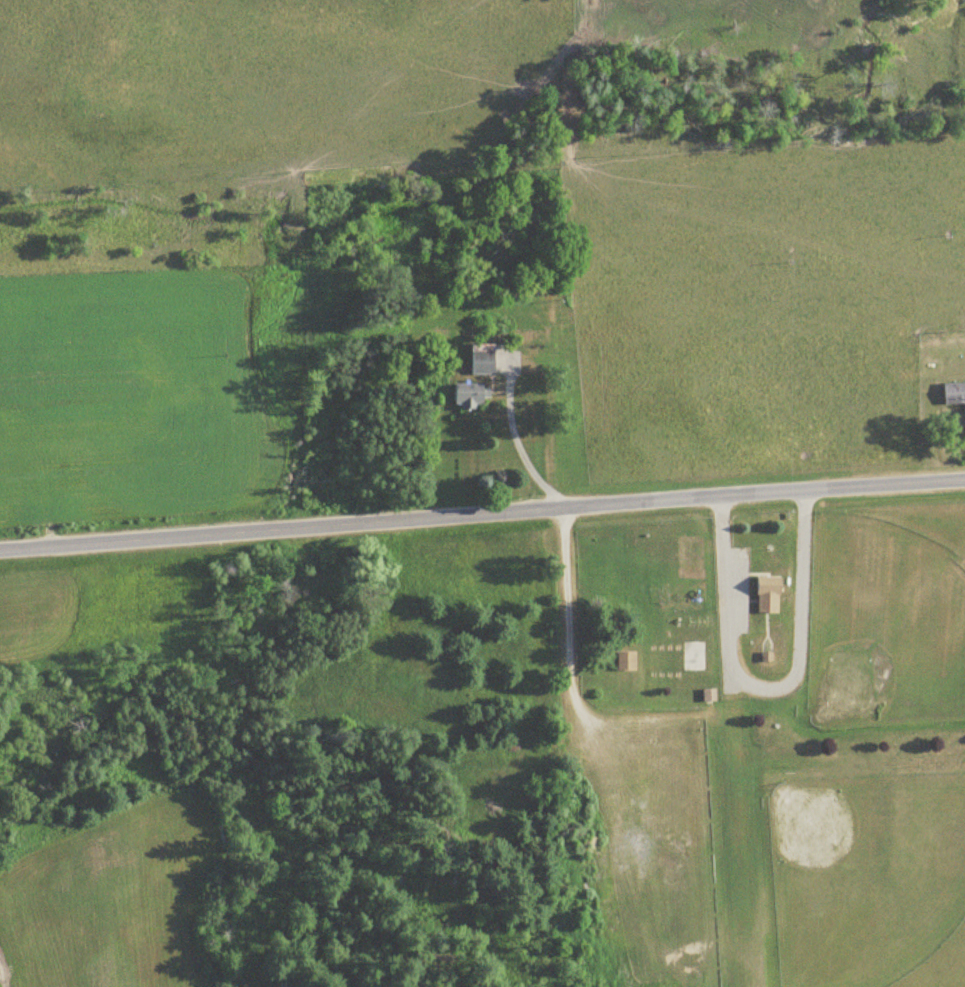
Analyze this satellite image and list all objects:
building: (478, 358)
building: (952, 392)
building: (464, 393)
road: (482, 511)
building: (764, 594)
building: (623, 661)
park: (754, 749)

